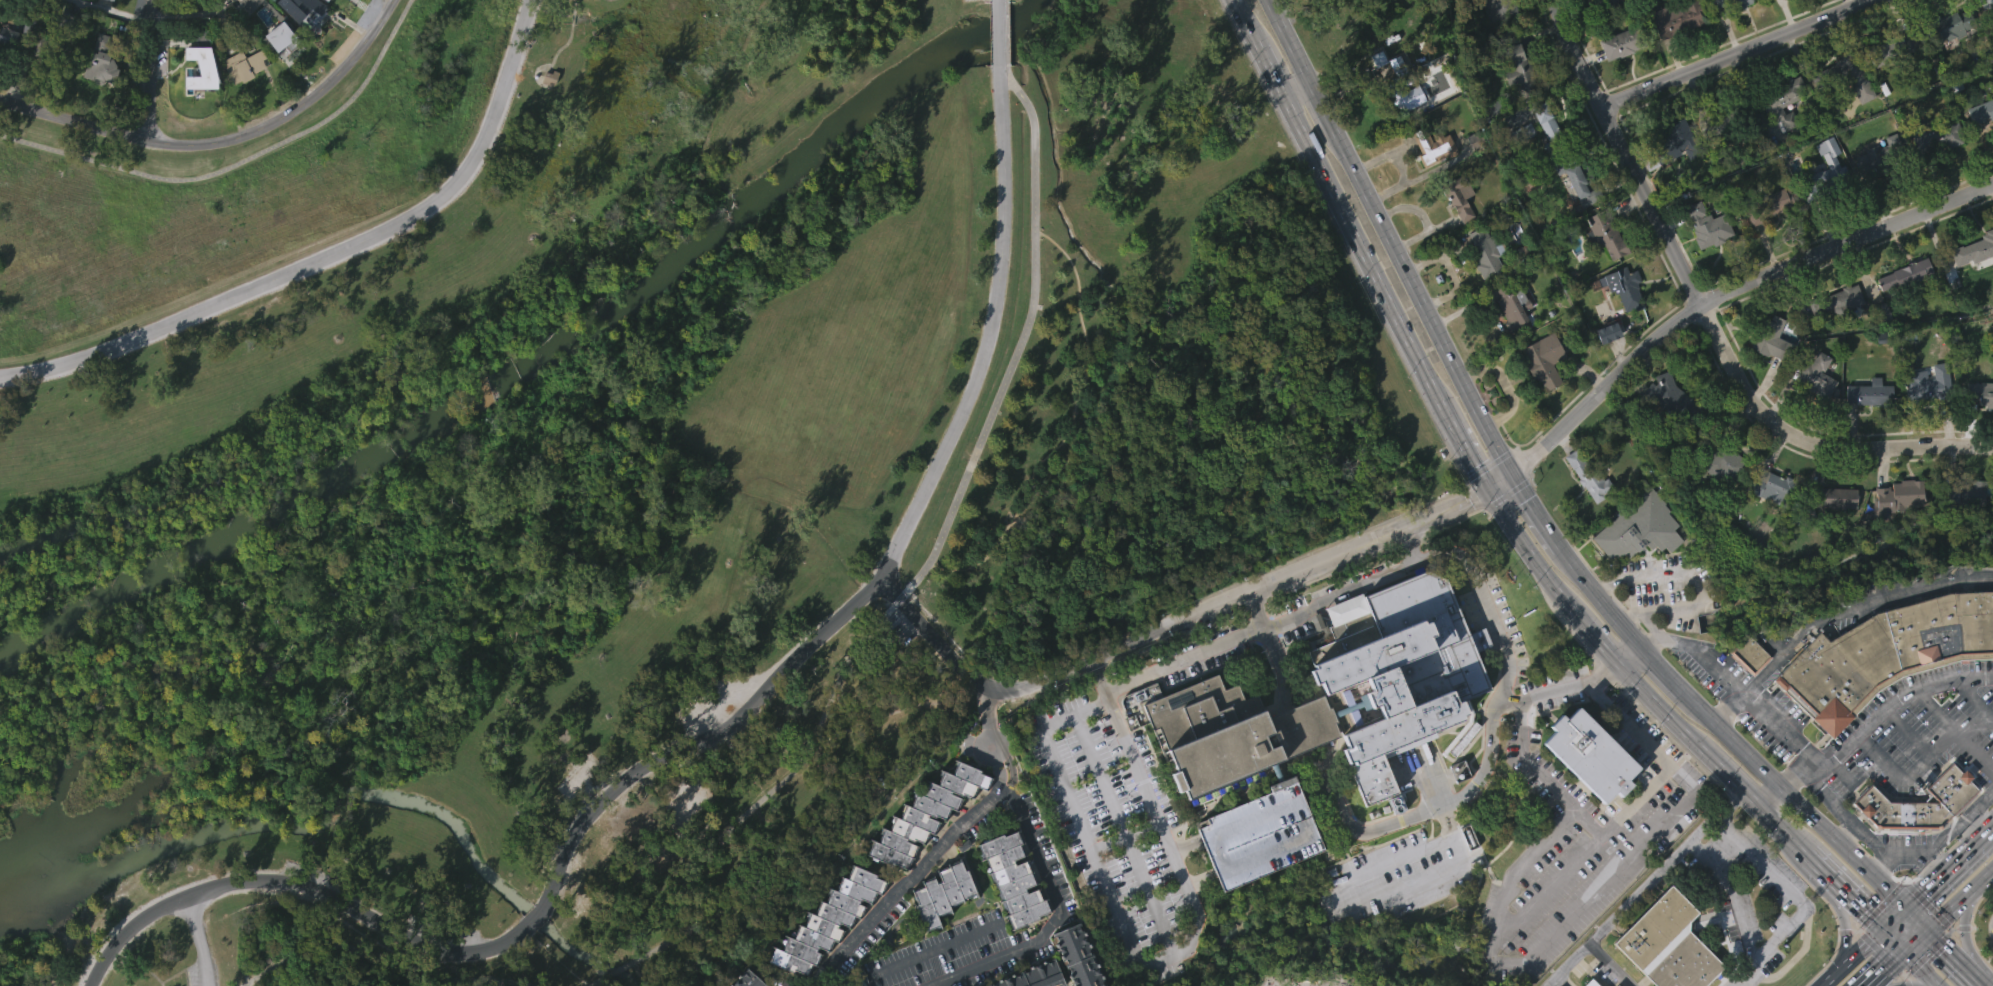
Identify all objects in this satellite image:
building: (61, 0)
building: (327, 1)
road: (997, 1)
road: (1006, 1)
building: (1830, 1)
building: (344, 2)
building: (97, 4)
building: (1727, 4)
building: (1988, 4)
building: (1608, 5)
building: (1500, 8)
building: (257, 10)
building: (1787, 11)
building: (308, 14)
building: (325, 17)
building: (1677, 17)
road: (155, 20)
road: (1250, 20)
building: (264, 21)
building: (68, 22)
building: (1610, 22)
park: (1356, 23)
building: (1950, 25)
building: (102, 27)
building: (1732, 30)
road: (997, 34)
road: (1006, 34)
building: (1988, 34)
building: (18, 35)
building: (248, 35)
building: (282, 37)
road: (1289, 39)
building: (1495, 42)
building: (1624, 42)
building: (1892, 48)
building: (48, 50)
building: (1673, 54)
road: (1737, 54)
building: (100, 60)
building: (1946, 61)
building: (246, 66)
road: (1272, 66)
building: (1520, 70)
road: (152, 71)
building: (9, 72)
building: (279, 72)
building: (196, 76)
building: (1846, 76)
building: (1899, 77)
building: (1616, 80)
building: (1402, 83)
road: (1297, 85)
building: (100, 96)
building: (241, 101)
building: (1784, 101)
road: (1323, 102)
building: (200, 103)
building: (1514, 104)
building: (1846, 111)
building: (1982, 111)
building: (546, 113)
building: (1728, 119)
building: (1550, 127)
building: (1405, 134)
building: (1518, 136)
building: (1936, 136)
building: (1778, 137)
road: (221, 140)
building: (1674, 144)
building: (1433, 146)
building: (1979, 146)
road: (1625, 154)
building: (1542, 156)
building: (1716, 158)
building: (1879, 158)
road: (240, 164)
building: (1934, 172)
building: (1824, 174)
building: (1670, 176)
building: (1578, 179)
building: (1432, 182)
building: (1879, 186)
building: (1460, 194)
building: (1769, 205)
building: (1573, 215)
building: (1708, 225)
building: (1604, 234)
building: (1455, 236)
building: (1766, 241)
building: (1975, 249)
building: (1486, 252)
road: (325, 257)
road: (1364, 257)
building: (1704, 261)
building: (1601, 268)
building: (1907, 273)
building: (1972, 285)
building: (1482, 287)
building: (1626, 287)
road: (1732, 292)
road: (1422, 298)
building: (1837, 300)
building: (1513, 305)
building: (1901, 310)
building: (1623, 314)
building: (1609, 332)
building: (1833, 336)
building: (1772, 338)
building: (1510, 342)
building: (1880, 347)
building: (1545, 360)
building: (1604, 367)
building: (1767, 372)
building: (1816, 377)
building: (1926, 388)
building: (1868, 392)
building: (1981, 392)
building: (1541, 396)
building: (1681, 403)
building: (1813, 410)
building: (1919, 421)
road: (1072, 428)
building: (1866, 428)
building: (1979, 428)
road: (1811, 442)
road: (1468, 454)
building: (1721, 460)
park: (625, 465)
traffic signals: (1513, 468)
building: (1590, 476)
road: (1499, 478)
traffic signals: (1486, 488)
building: (1773, 489)
building: (1903, 494)
building: (1834, 497)
building: (1719, 499)
road: (1539, 505)
building: (1585, 512)
building: (1768, 522)
building: (1960, 526)
building: (1639, 527)
building: (1895, 532)
building: (1830, 533)
road: (1407, 544)
road: (889, 554)
road: (1532, 554)
road: (928, 556)
building: (1636, 563)
road: (1691, 577)
road: (1476, 588)
road: (1601, 591)
road: (1854, 605)
road: (1650, 626)
road: (1165, 630)
road: (1596, 640)
road: (1627, 647)
road: (1270, 650)
building: (1749, 653)
building: (1888, 655)
road: (1662, 662)
road: (1100, 676)
road: (1737, 687)
road: (1557, 689)
building: (1746, 690)
road: (1977, 696)
road: (1731, 706)
road: (1664, 708)
road: (1934, 710)
road: (1878, 713)
building: (1320, 720)
building: (1144, 728)
road: (1906, 729)
road: (1295, 732)
building: (1465, 739)
building: (1592, 754)
road: (1924, 754)
road: (1740, 782)
building: (1587, 789)
road: (1775, 797)
road: (1796, 798)
building: (1917, 803)
building: (926, 811)
road: (1617, 814)
road: (1979, 823)
road: (1387, 826)
road: (1122, 827)
road: (1787, 830)
road: (1847, 832)
road: (949, 834)
building: (1915, 837)
road: (1976, 841)
building: (924, 849)
road: (1895, 855)
road: (1878, 863)
road: (1933, 865)
building: (1257, 869)
building: (1012, 876)
road: (1934, 881)
road: (1104, 882)
road: (1646, 885)
road: (297, 887)
road: (1545, 889)
traffic signals: (1925, 890)
building: (942, 892)
road: (1847, 892)
road: (1729, 893)
road: (1341, 899)
road: (1798, 899)
road: (1947, 907)
traffic signals: (1865, 910)
building: (1011, 914)
road: (1841, 914)
road: (1918, 917)
road: (534, 919)
building: (827, 919)
road: (1055, 919)
road: (1897, 919)
road: (1992, 926)
road: (1963, 927)
building: (940, 928)
road: (1847, 929)
road: (1965, 934)
road: (310, 940)
road: (199, 941)
road: (1546, 941)
road: (1894, 941)
road: (951, 943)
building: (1662, 944)
building: (833, 947)
traffic signals: (1945, 947)
building: (1077, 955)
road: (1955, 957)
road: (1855, 958)
road: (900, 965)
road: (1611, 965)
road: (1884, 968)
traffic signals: (1885, 968)
road: (1920, 968)
road: (1904, 969)
road: (612, 972)
building: (1033, 975)
building: (747, 979)
road: (1904, 979)
road: (586, 983)
building: (1592, 983)
building: (1618, 985)
road: (1907, 985)

